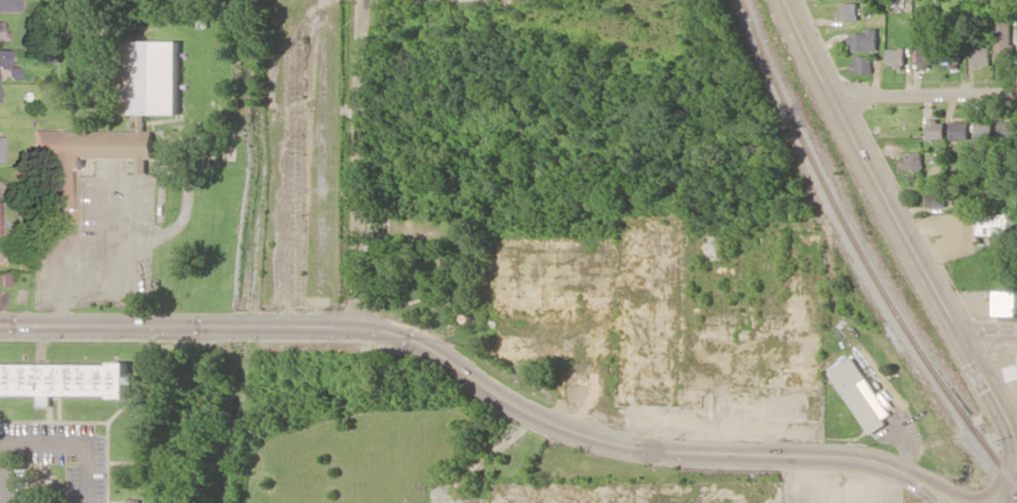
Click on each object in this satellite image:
building: (7, 5)
building: (848, 10)
building: (90, 33)
building: (3, 36)
building: (864, 40)
building: (1006, 43)
building: (981, 55)
building: (927, 56)
building: (951, 56)
building: (896, 57)
building: (1, 58)
building: (862, 63)
building: (155, 76)
road: (922, 93)
building: (936, 129)
building: (960, 129)
building: (986, 133)
building: (0, 148)
building: (914, 160)
road: (362, 163)
building: (89, 167)
building: (61, 170)
road: (865, 171)
building: (938, 197)
building: (0, 214)
building: (995, 224)
railway: (863, 254)
building: (1005, 302)
road: (990, 330)
building: (1016, 357)
road: (465, 370)
building: (1012, 371)
building: (64, 379)
road: (991, 388)
building: (862, 394)
road: (46, 437)
road: (1013, 486)
road: (928, 490)
road: (963, 493)
building: (134, 501)

